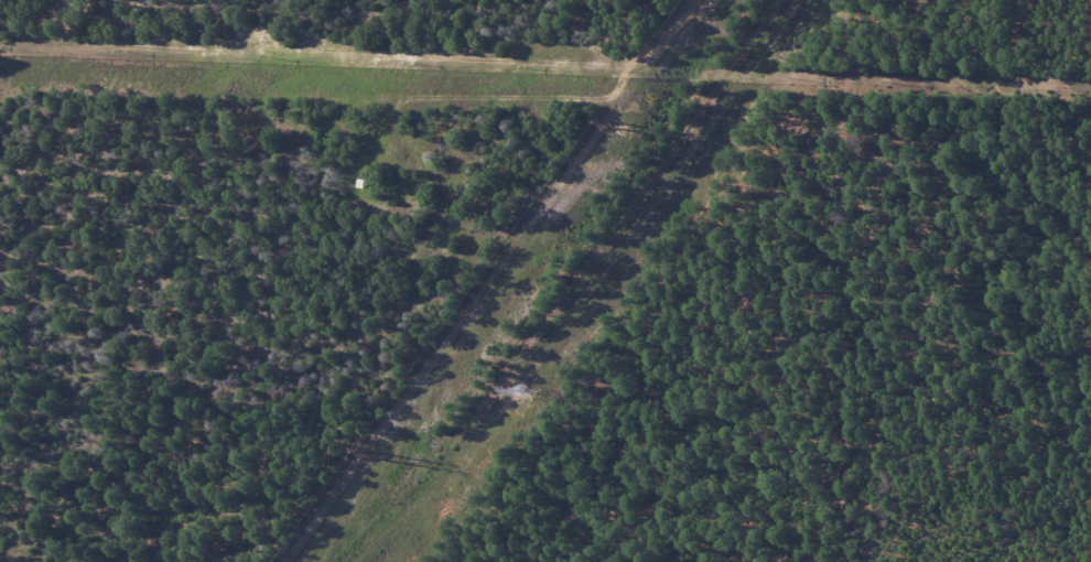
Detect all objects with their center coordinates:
power tower: (617, 126)
power tower: (526, 393)
power tower: (377, 457)

